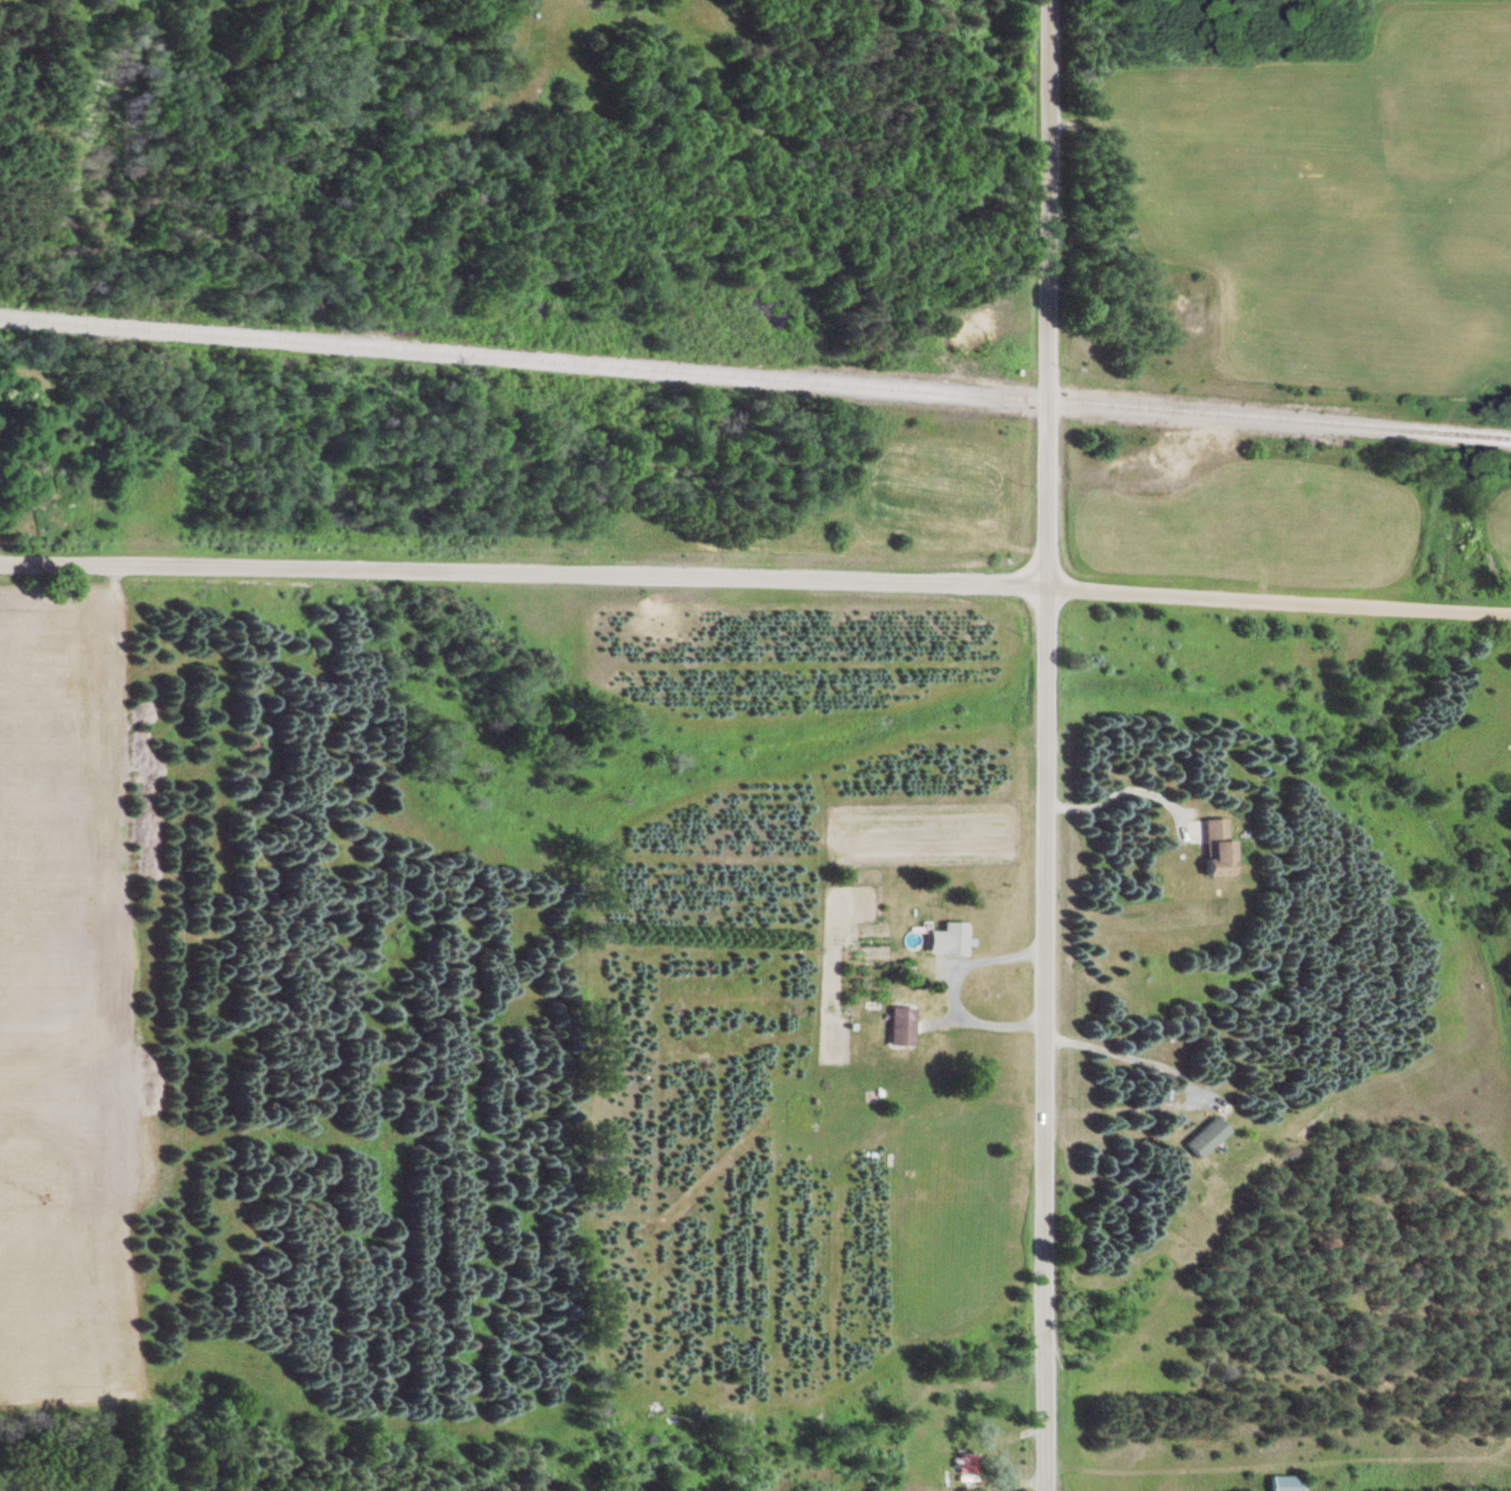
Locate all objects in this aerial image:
road: (1044, 293)
railway: (755, 377)
road: (755, 576)
building: (1209, 846)
building: (945, 938)
building: (897, 1026)
road: (1047, 1038)
building: (1201, 1137)
building: (1280, 1483)

